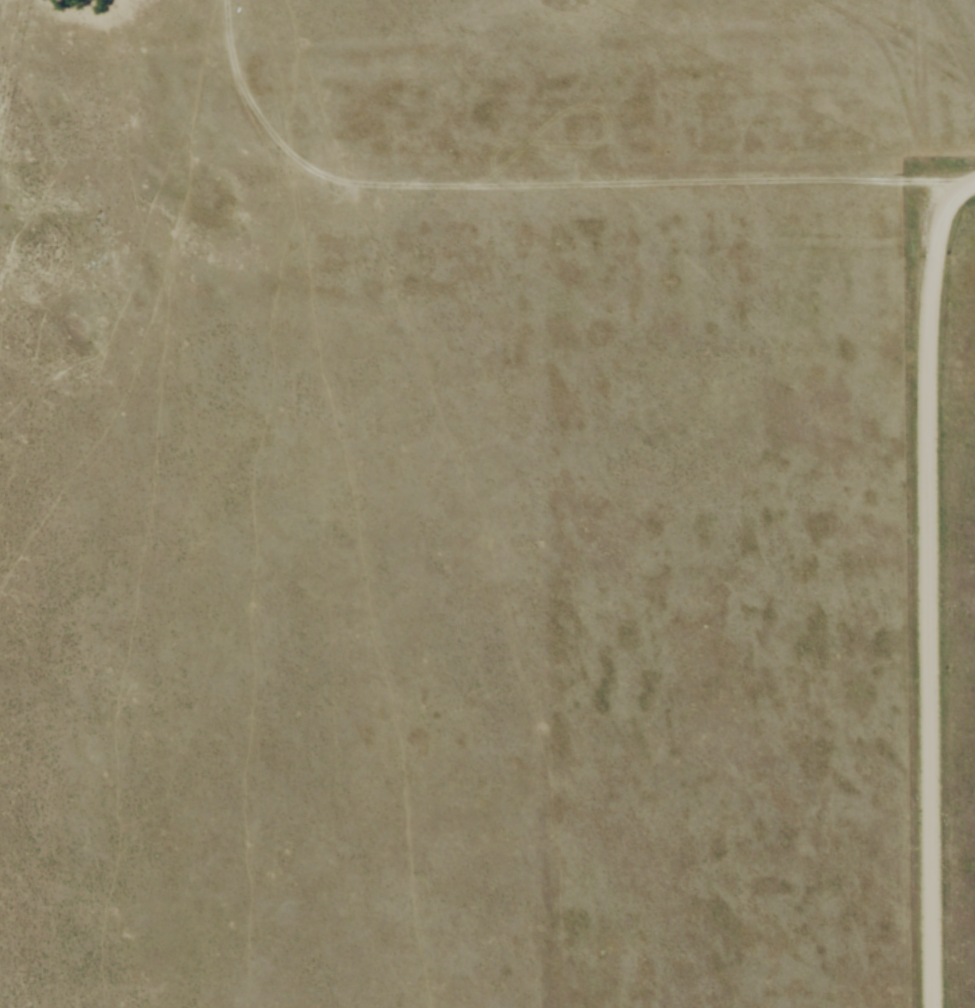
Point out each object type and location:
road: (960, 186)
road: (926, 601)

